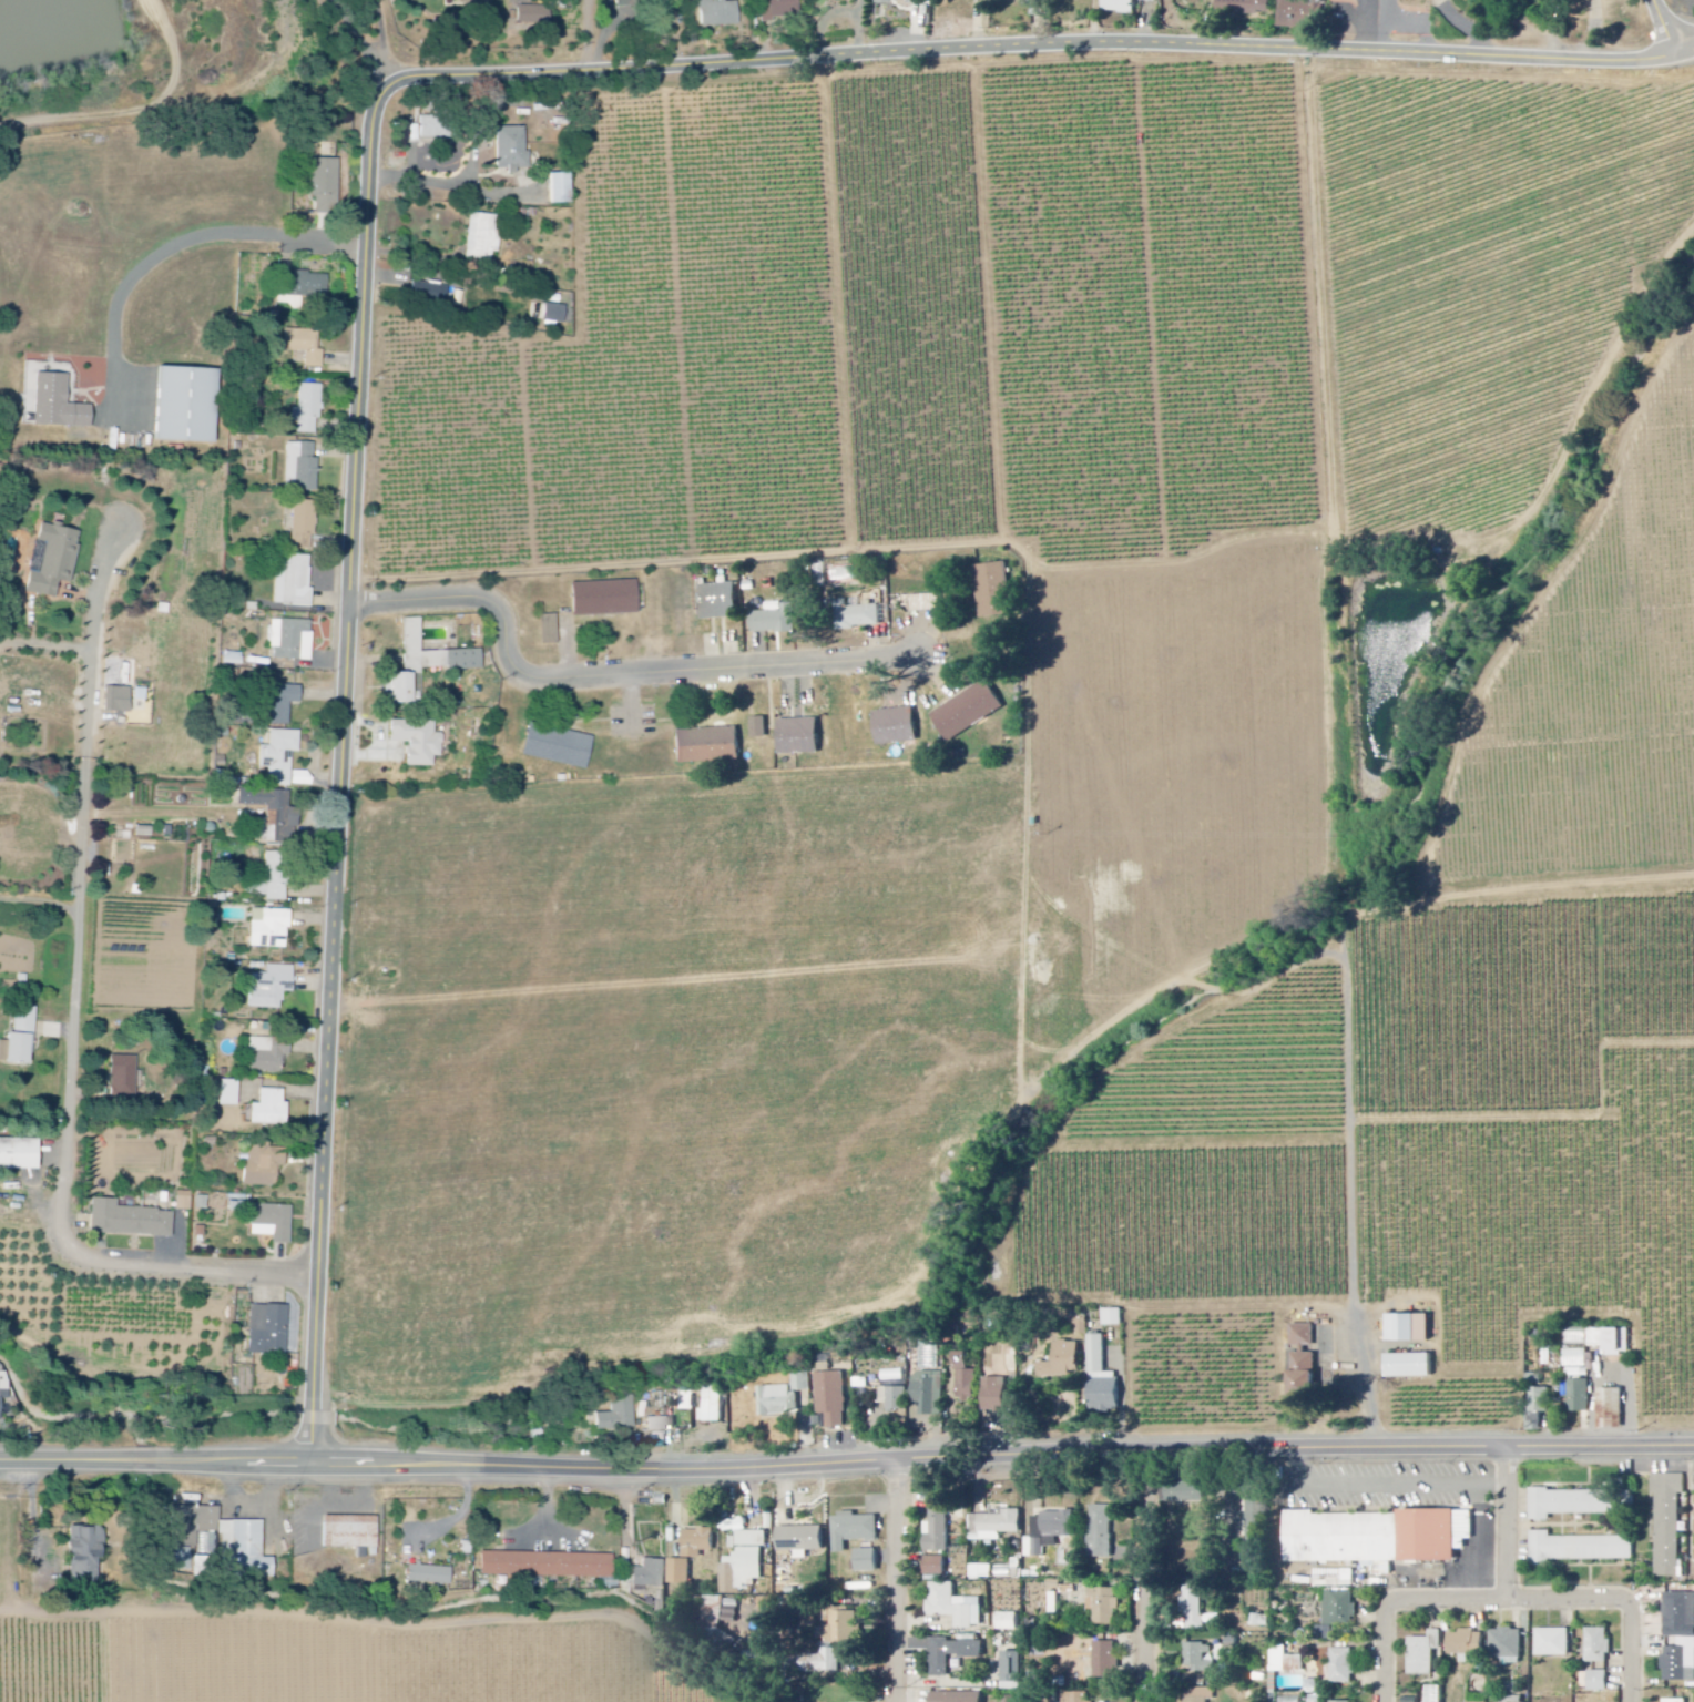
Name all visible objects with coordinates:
building: (474, 1)
building: (1150, 1)
building: (887, 2)
building: (920, 2)
building: (631, 3)
building: (1246, 8)
building: (778, 10)
building: (717, 14)
building: (1302, 14)
building: (534, 17)
road: (1666, 30)
road: (674, 37)
road: (379, 39)
road: (361, 45)
road: (382, 96)
road: (135, 113)
building: (437, 129)
building: (513, 151)
road: (450, 185)
building: (327, 188)
building: (561, 191)
building: (482, 238)
road: (177, 243)
building: (306, 287)
building: (430, 294)
building: (555, 315)
building: (305, 347)
building: (59, 406)
building: (190, 408)
building: (308, 410)
building: (302, 468)
building: (304, 526)
building: (53, 560)
building: (293, 582)
building: (997, 591)
building: (606, 599)
building: (718, 601)
building: (777, 621)
building: (549, 630)
building: (292, 640)
building: (425, 664)
road: (611, 676)
building: (119, 701)
building: (282, 704)
building: (970, 711)
building: (899, 726)
building: (761, 728)
building: (802, 737)
building: (419, 742)
building: (710, 746)
building: (560, 747)
building: (280, 757)
building: (275, 814)
building: (277, 877)
building: (271, 929)
building: (271, 988)
road: (75, 1023)
building: (22, 1038)
building: (268, 1056)
building: (124, 1077)
building: (228, 1094)
building: (271, 1110)
building: (19, 1155)
building: (264, 1166)
building: (183, 1202)
building: (130, 1222)
building: (273, 1224)
building: (1114, 1318)
building: (1411, 1329)
building: (268, 1331)
building: (1601, 1338)
building: (1620, 1342)
building: (1065, 1362)
building: (1307, 1365)
building: (1412, 1367)
building: (884, 1373)
building: (967, 1379)
road: (1366, 1379)
building: (1104, 1380)
building: (803, 1383)
building: (3, 1390)
building: (930, 1394)
building: (998, 1396)
building: (1581, 1397)
building: (833, 1399)
building: (895, 1399)
building: (779, 1402)
building: (714, 1405)
building: (1539, 1409)
building: (1613, 1410)
building: (618, 1417)
road: (314, 1418)
building: (657, 1426)
road: (314, 1441)
road: (314, 1465)
road: (847, 1474)
road: (1432, 1484)
road: (1494, 1485)
building: (1186, 1492)
parking lot: (1408, 1492)
building: (1580, 1504)
building: (1667, 1525)
building: (939, 1526)
road: (1511, 1526)
building: (997, 1527)
building: (1258, 1527)
building: (208, 1530)
building: (856, 1531)
building: (1103, 1531)
building: (351, 1535)
building: (1379, 1539)
building: (804, 1540)
building: (700, 1543)
building: (246, 1546)
building: (1582, 1549)
building: (86, 1556)
building: (870, 1562)
building: (745, 1563)
building: (548, 1567)
building: (938, 1568)
building: (681, 1572)
building: (652, 1576)
building: (430, 1577)
road: (1149, 1578)
road: (900, 1588)
road: (1511, 1603)
building: (1105, 1607)
building: (957, 1608)
building: (1196, 1608)
building: (1341, 1610)
building: (731, 1613)
building: (1677, 1616)
building: (1010, 1623)
building: (845, 1629)
building: (1508, 1644)
building: (1554, 1644)
building: (1595, 1647)
building: (948, 1653)
building: (1426, 1654)
building: (1201, 1659)
building: (1108, 1661)
building: (830, 1662)
building: (1285, 1662)
building: (1676, 1664)
building: (1341, 1668)
building: (1014, 1672)
building: (1596, 1682)
building: (1201, 1695)
building: (1075, 1698)
building: (1011, 1700)
building: (1672, 1701)

